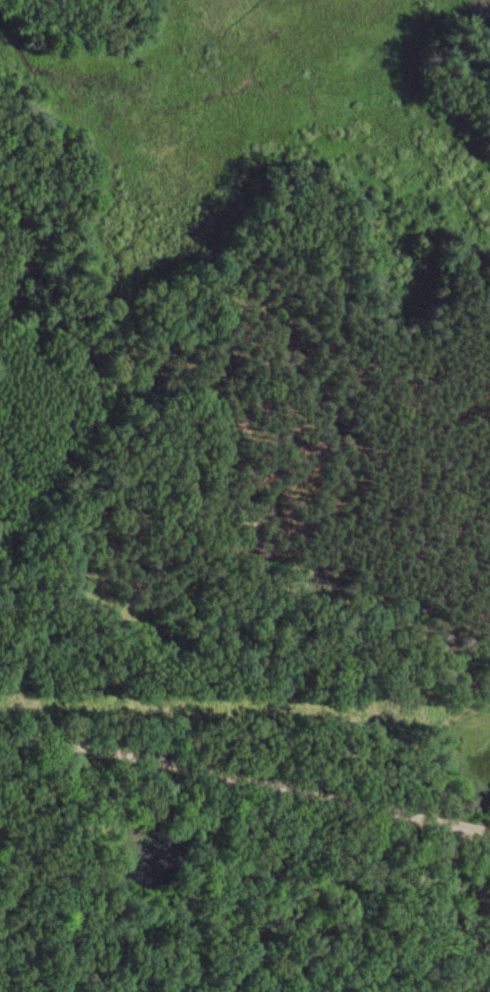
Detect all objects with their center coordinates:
road: (246, 776)
road: (400, 903)

